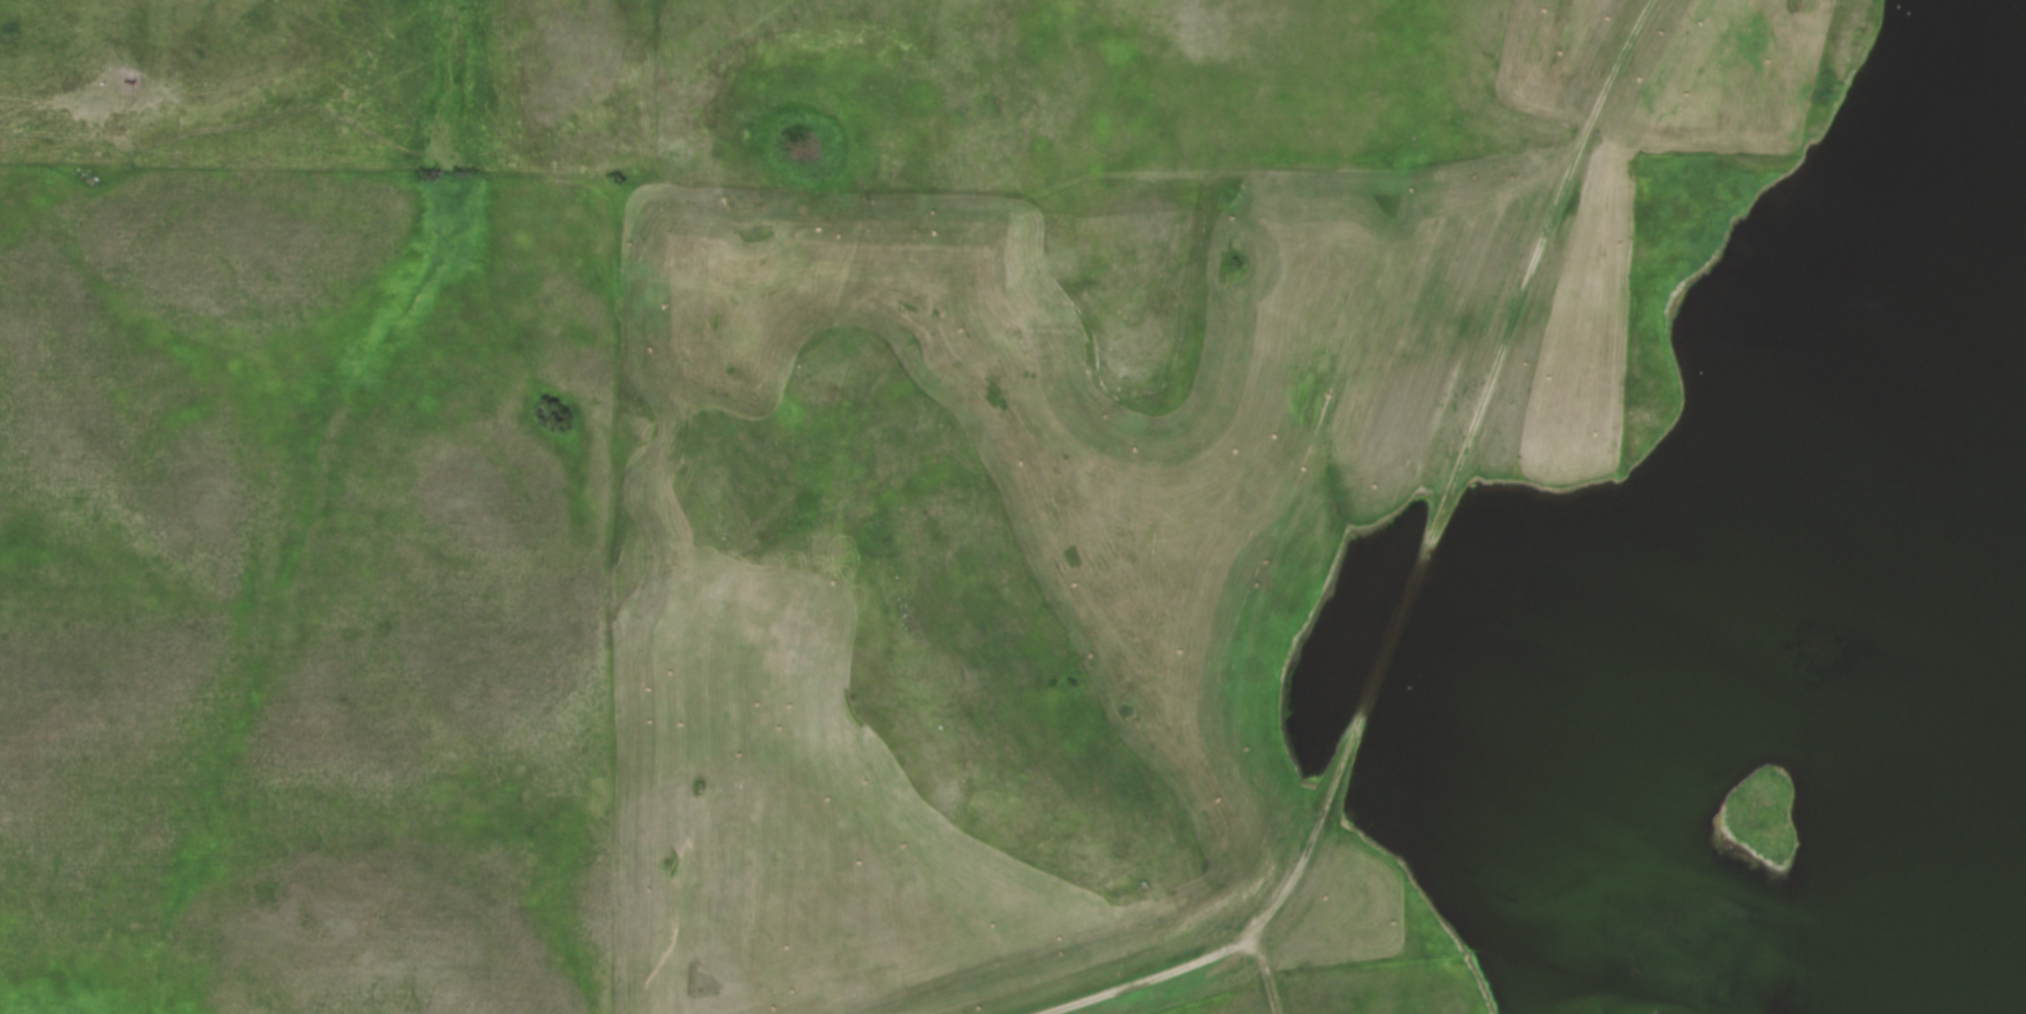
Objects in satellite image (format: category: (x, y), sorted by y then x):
building: (1803, 5)
silo: (1803, 5)
road: (1485, 105)
road: (1420, 573)

